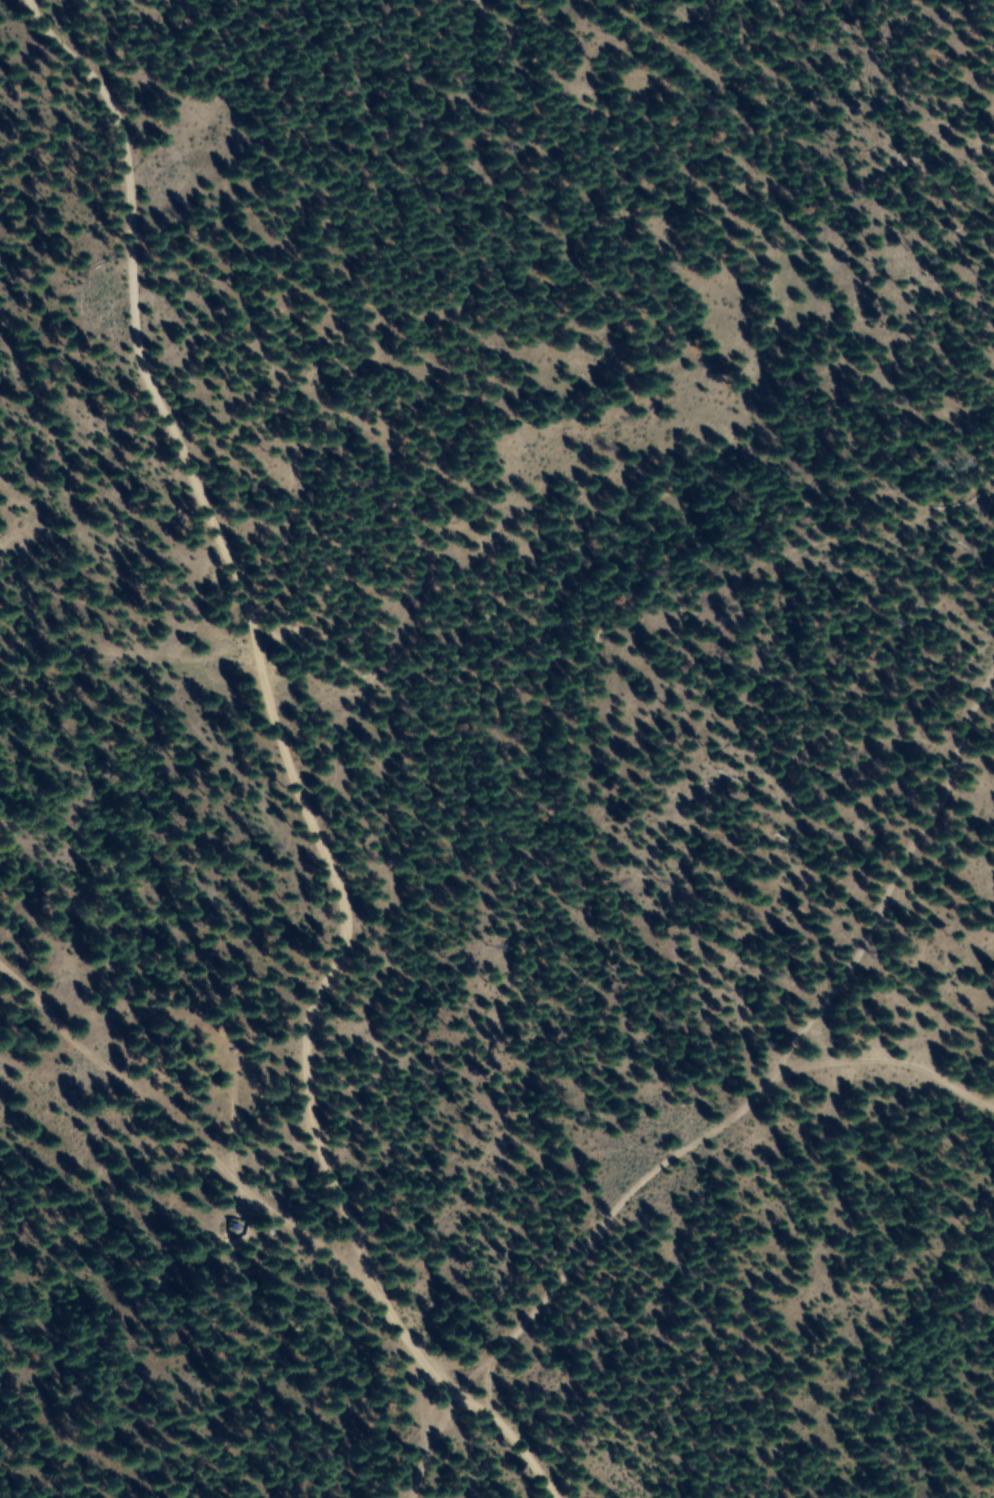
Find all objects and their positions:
road: (224, 752)
road: (148, 1135)
road: (429, 1493)

